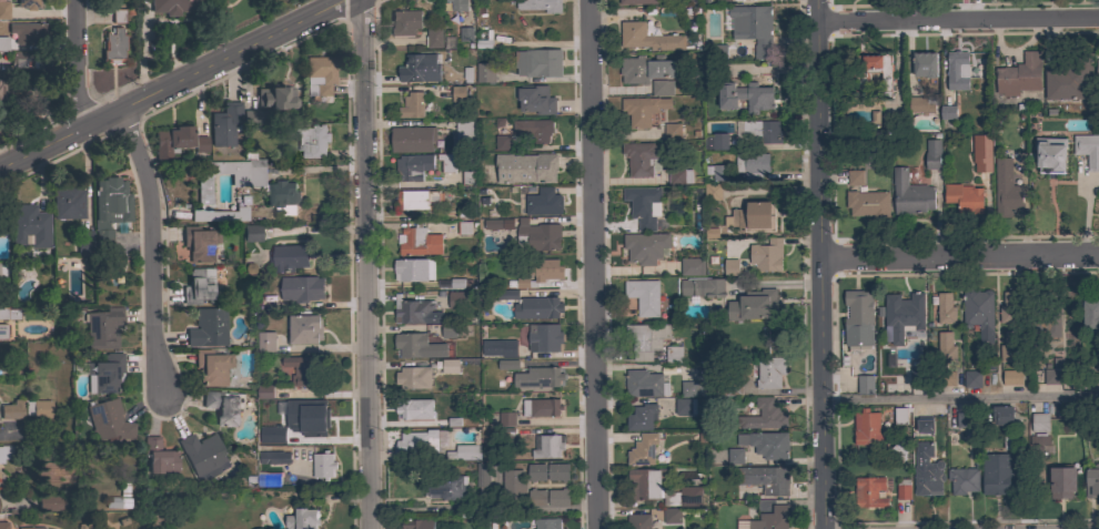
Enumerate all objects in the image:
building: (723, 0)
building: (637, 1)
building: (27, 3)
building: (175, 6)
building: (454, 6)
building: (540, 6)
building: (3, 10)
building: (118, 16)
road: (959, 18)
building: (405, 22)
building: (757, 29)
building: (27, 33)
building: (465, 33)
building: (434, 38)
building: (649, 38)
building: (483, 39)
building: (3, 43)
building: (113, 45)
building: (17, 59)
building: (538, 63)
building: (925, 64)
road: (73, 65)
building: (420, 68)
building: (645, 69)
building: (873, 70)
building: (956, 71)
building: (485, 72)
building: (1098, 73)
building: (320, 74)
building: (467, 74)
building: (1019, 75)
building: (1069, 81)
building: (1, 84)
road: (173, 85)
building: (662, 88)
building: (458, 93)
building: (745, 96)
building: (272, 98)
building: (535, 99)
building: (921, 104)
building: (412, 105)
building: (643, 110)
building: (870, 112)
building: (947, 112)
building: (253, 116)
building: (224, 123)
building: (534, 130)
building: (763, 130)
building: (673, 131)
building: (464, 135)
building: (413, 139)
building: (311, 140)
building: (171, 141)
building: (716, 141)
building: (200, 143)
building: (502, 143)
building: (1088, 150)
building: (981, 153)
building: (932, 154)
building: (1050, 155)
building: (641, 157)
building: (447, 162)
building: (752, 165)
building: (412, 166)
building: (525, 169)
building: (717, 171)
building: (679, 176)
building: (467, 177)
building: (855, 177)
building: (279, 190)
building: (1006, 190)
building: (712, 192)
building: (910, 194)
building: (965, 197)
building: (415, 200)
building: (67, 201)
building: (543, 202)
building: (867, 203)
building: (642, 205)
building: (109, 207)
building: (754, 217)
building: (493, 224)
building: (3, 225)
building: (29, 226)
building: (463, 227)
building: (251, 233)
building: (536, 235)
building: (419, 241)
building: (83, 242)
building: (199, 243)
building: (645, 247)
road: (154, 248)
building: (766, 255)
road: (960, 255)
building: (289, 257)
road: (367, 264)
road: (598, 264)
road: (823, 264)
building: (692, 266)
building: (730, 267)
building: (413, 269)
building: (538, 273)
building: (198, 285)
building: (703, 287)
building: (302, 288)
building: (644, 296)
building: (456, 299)
building: (532, 305)
building: (753, 305)
building: (1008, 307)
building: (945, 308)
building: (412, 311)
building: (2, 313)
building: (979, 314)
building: (1090, 315)
building: (904, 316)
building: (858, 318)
building: (1046, 321)
building: (102, 327)
building: (208, 327)
building: (305, 328)
building: (2, 330)
building: (447, 330)
building: (544, 337)
building: (646, 339)
building: (266, 342)
building: (770, 342)
building: (417, 346)
building: (500, 347)
building: (946, 347)
building: (1010, 347)
building: (300, 349)
building: (673, 355)
building: (506, 364)
building: (212, 367)
building: (301, 368)
building: (445, 368)
building: (769, 372)
building: (1053, 372)
building: (104, 374)
building: (413, 377)
building: (544, 377)
building: (916, 377)
building: (1012, 377)
building: (948, 378)
building: (971, 379)
building: (643, 383)
building: (865, 385)
building: (693, 388)
building: (730, 388)
building: (264, 391)
road: (961, 399)
building: (224, 406)
building: (685, 406)
building: (541, 407)
building: (12, 409)
building: (38, 409)
building: (416, 409)
building: (1002, 415)
building: (309, 416)
building: (764, 416)
building: (899, 416)
building: (643, 417)
building: (506, 419)
building: (964, 419)
building: (107, 421)
building: (1039, 423)
building: (925, 426)
building: (866, 427)
road: (23, 433)
building: (273, 435)
building: (507, 435)
building: (1039, 440)
building: (417, 442)
building: (766, 444)
building: (547, 446)
building: (644, 449)
building: (899, 450)
building: (7, 451)
building: (201, 452)
building: (463, 452)
building: (735, 456)
building: (159, 457)
building: (274, 457)
building: (323, 466)
building: (53, 471)
building: (557, 471)
building: (926, 471)
building: (536, 472)
building: (997, 474)
building: (265, 479)
building: (767, 479)
building: (483, 480)
building: (962, 480)
building: (1061, 481)
building: (1091, 481)
building: (513, 485)
building: (448, 488)
building: (661, 488)
building: (903, 489)
building: (869, 491)
building: (536, 498)
building: (558, 498)
building: (50, 501)
building: (118, 502)
building: (467, 511)
building: (672, 516)
building: (772, 518)
building: (303, 519)
building: (638, 521)
building: (417, 523)
building: (547, 523)
building: (3, 526)
building: (30, 528)

